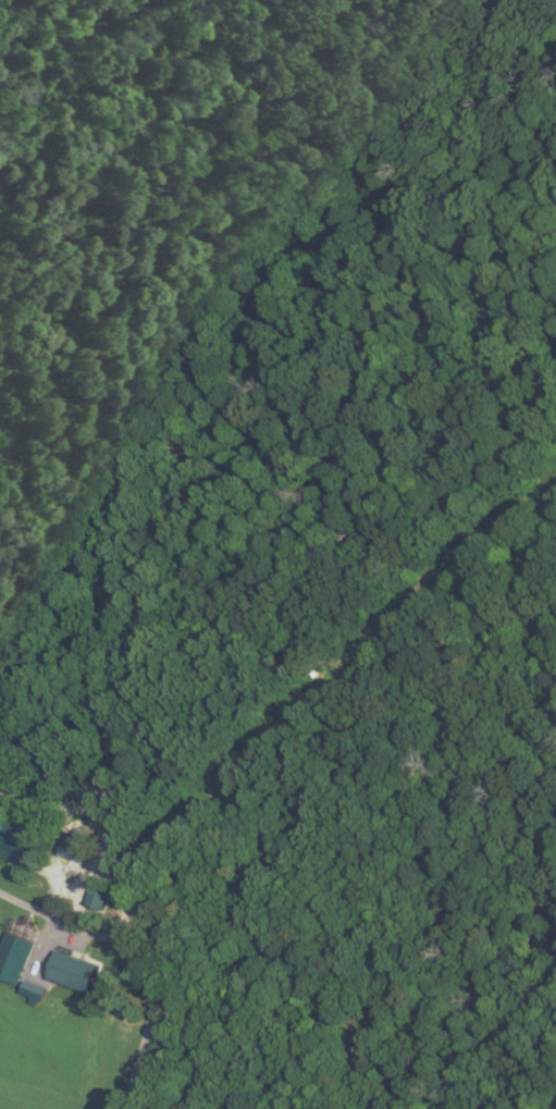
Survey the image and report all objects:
building: (12, 841)
building: (78, 845)
building: (98, 894)
road: (95, 929)
building: (73, 969)
road: (139, 1053)

